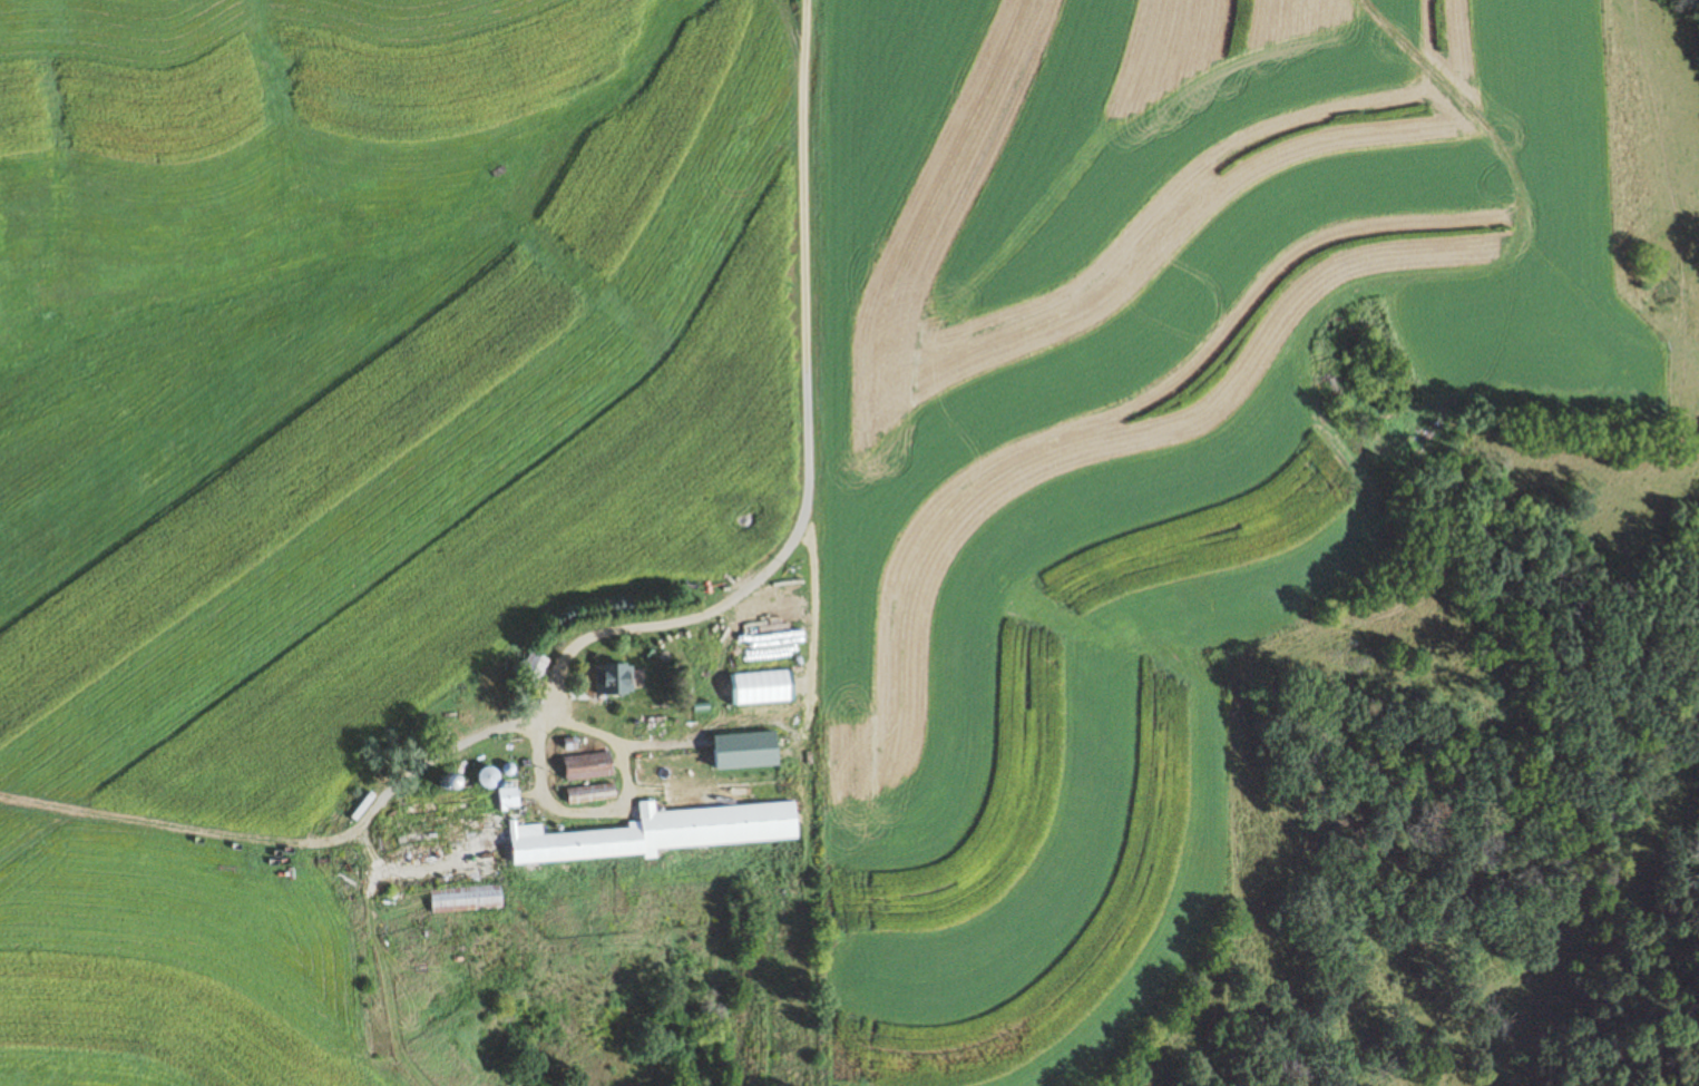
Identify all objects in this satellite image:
road: (615, 591)
building: (536, 669)
building: (622, 679)
building: (722, 825)
building: (452, 899)

